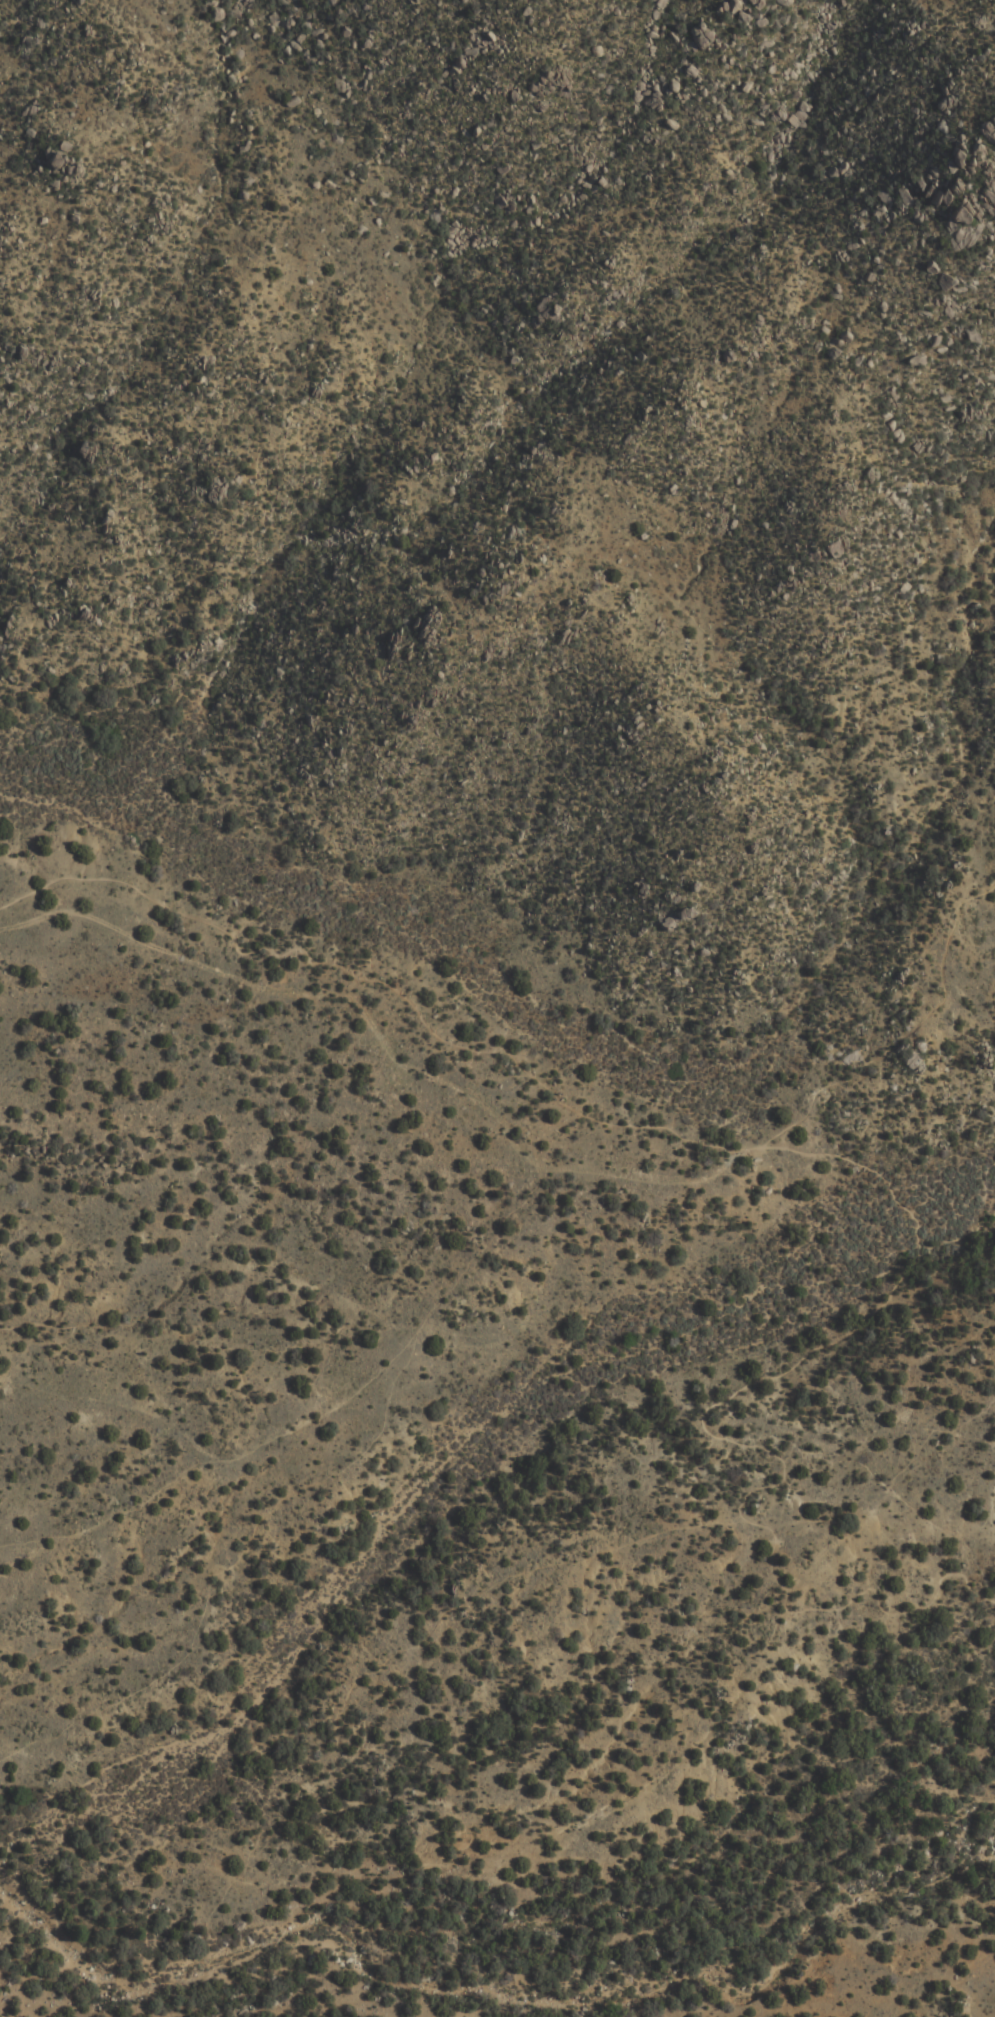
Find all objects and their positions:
road: (772, 1141)
park: (499, 1361)

